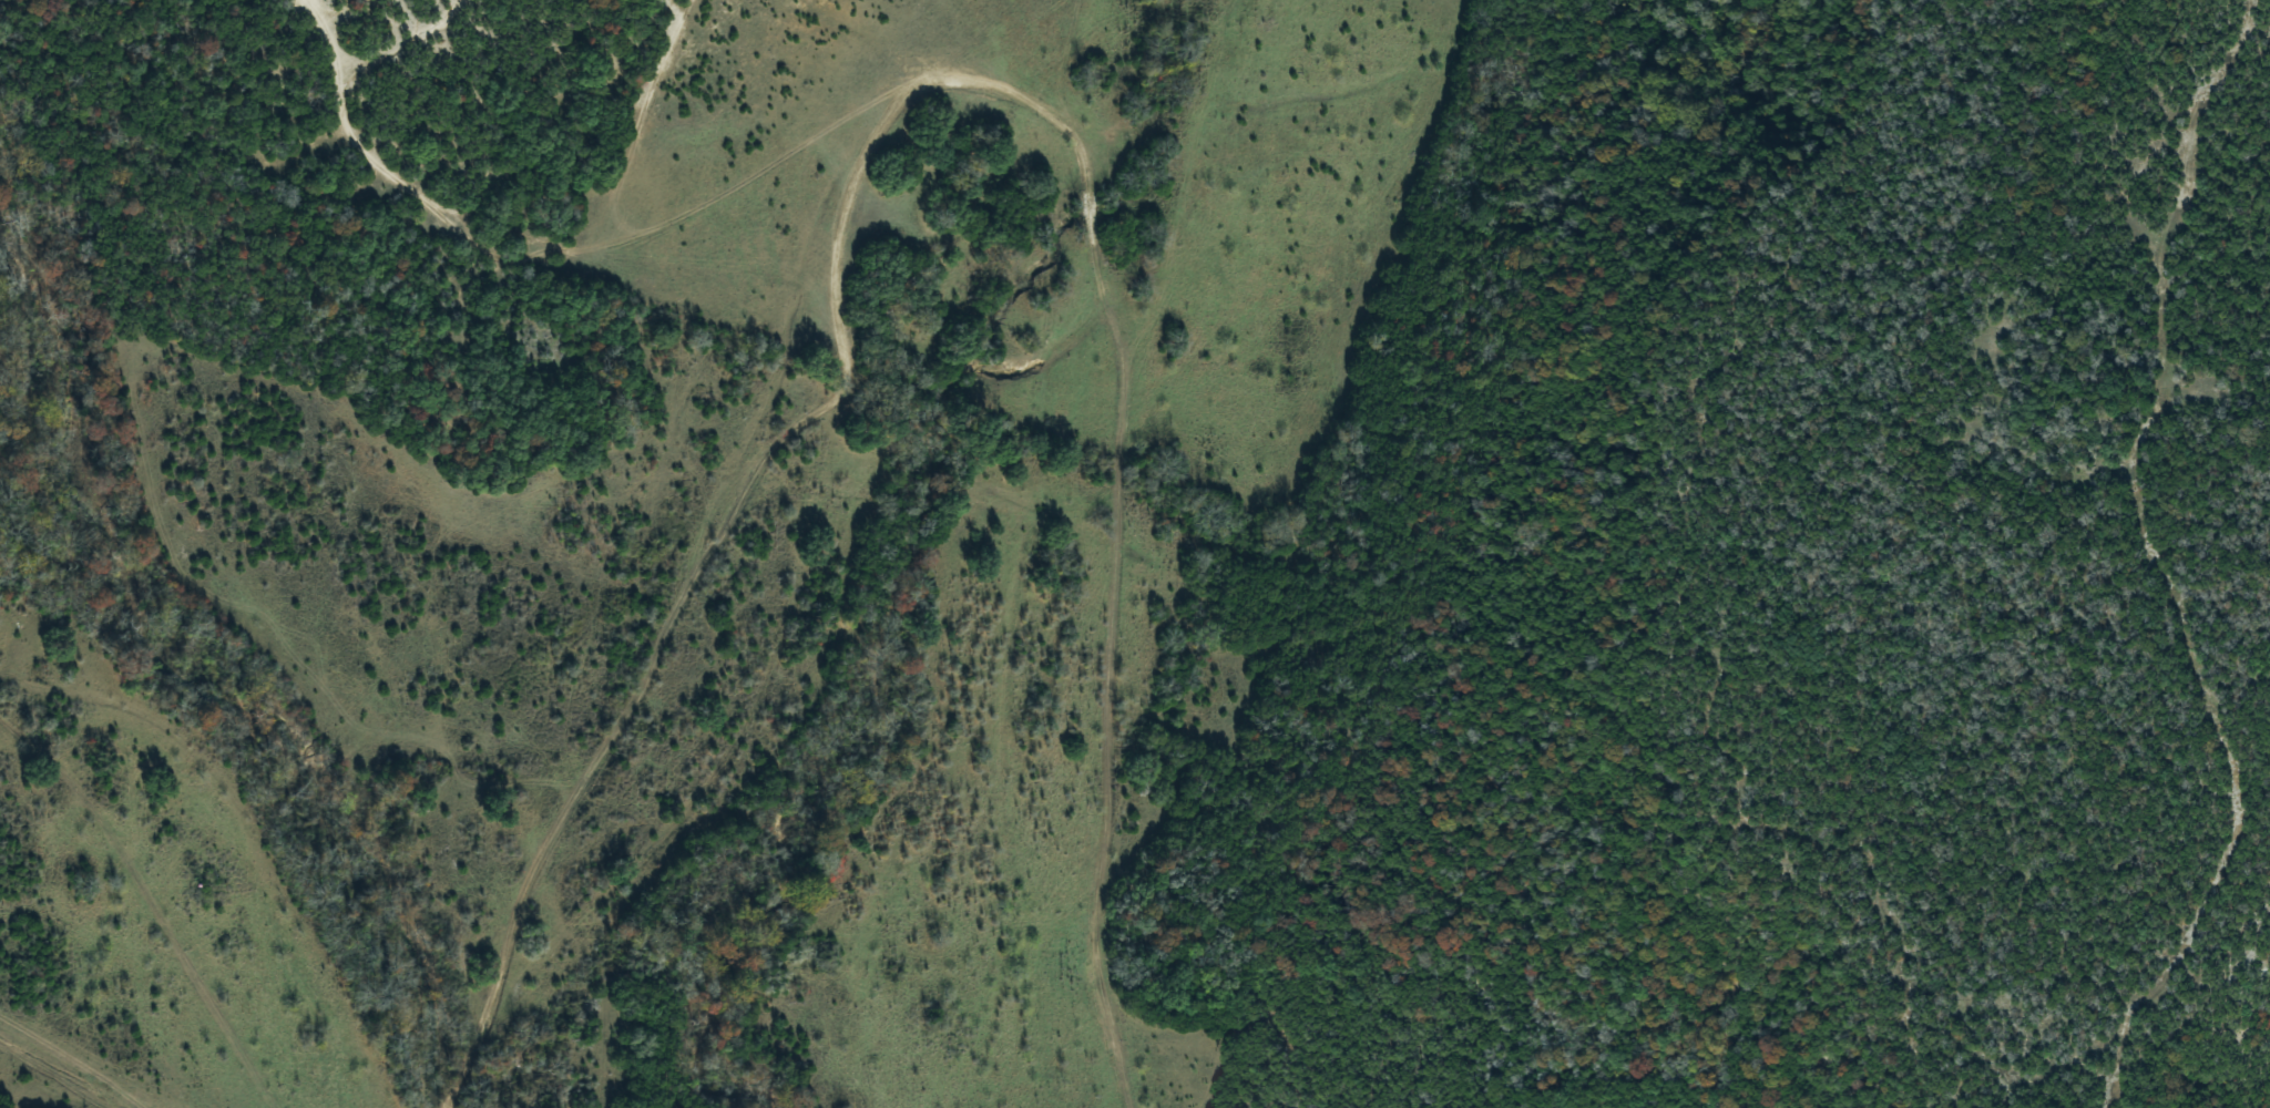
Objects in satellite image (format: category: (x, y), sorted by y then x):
road: (1056, 130)
road: (2171, 553)

